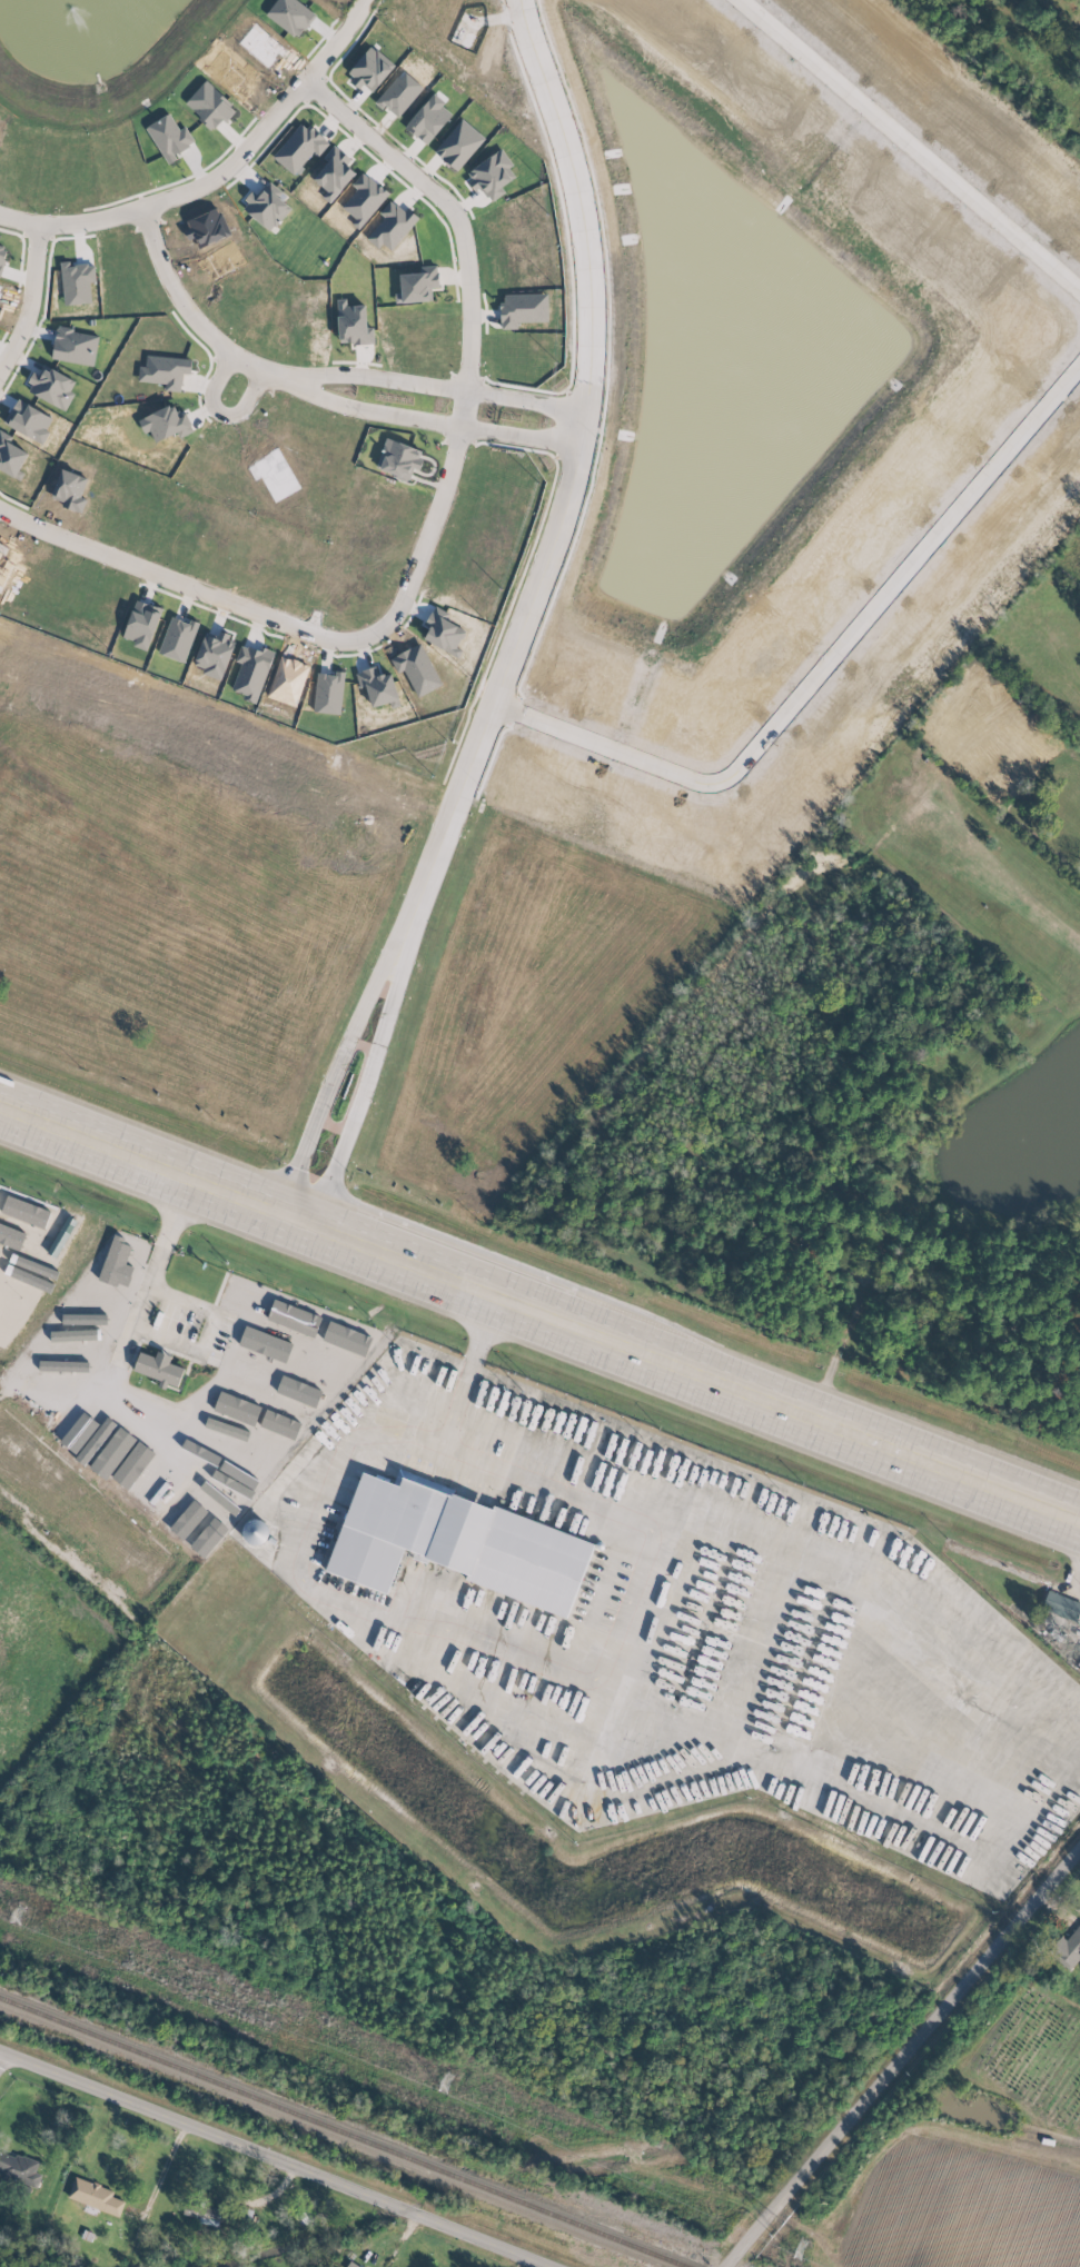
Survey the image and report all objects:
building: (299, 147)
road: (217, 173)
building: (266, 208)
building: (417, 285)
road: (29, 297)
building: (523, 309)
road: (198, 324)
road: (469, 338)
building: (164, 371)
road: (314, 376)
building: (51, 387)
road: (221, 412)
building: (10, 455)
building: (398, 459)
road: (180, 584)
road: (502, 693)
road: (402, 960)
building: (118, 1262)
building: (244, 1299)
building: (90, 1303)
road: (539, 1312)
building: (294, 1318)
building: (128, 1322)
road: (145, 1330)
building: (75, 1334)
building: (344, 1338)
building: (265, 1343)
building: (107, 1349)
building: (66, 1350)
building: (319, 1360)
building: (65, 1364)
building: (158, 1368)
road: (468, 1369)
building: (250, 1373)
building: (57, 1381)
building: (9, 1386)
building: (296, 1389)
building: (236, 1408)
building: (178, 1424)
building: (279, 1424)
building: (63, 1430)
building: (81, 1431)
building: (235, 1440)
building: (95, 1441)
building: (160, 1450)
building: (111, 1452)
building: (132, 1464)
building: (212, 1464)
building: (206, 1476)
building: (151, 1480)
building: (420, 1481)
building: (245, 1492)
building: (187, 1519)
building: (255, 1532)
building: (208, 1537)
building: (456, 1543)
road: (1070, 1577)
building: (1061, 1605)
road: (505, 1649)
building: (1078, 1666)
road: (702, 1739)
power tower: (14, 1913)
building: (1067, 1949)
road: (902, 2062)
road: (12, 2069)
power tower: (443, 2084)
railway: (344, 2131)
road: (279, 2155)
road: (165, 2165)
building: (19, 2169)
building: (93, 2196)
building: (206, 2213)
power tower: (797, 2248)

